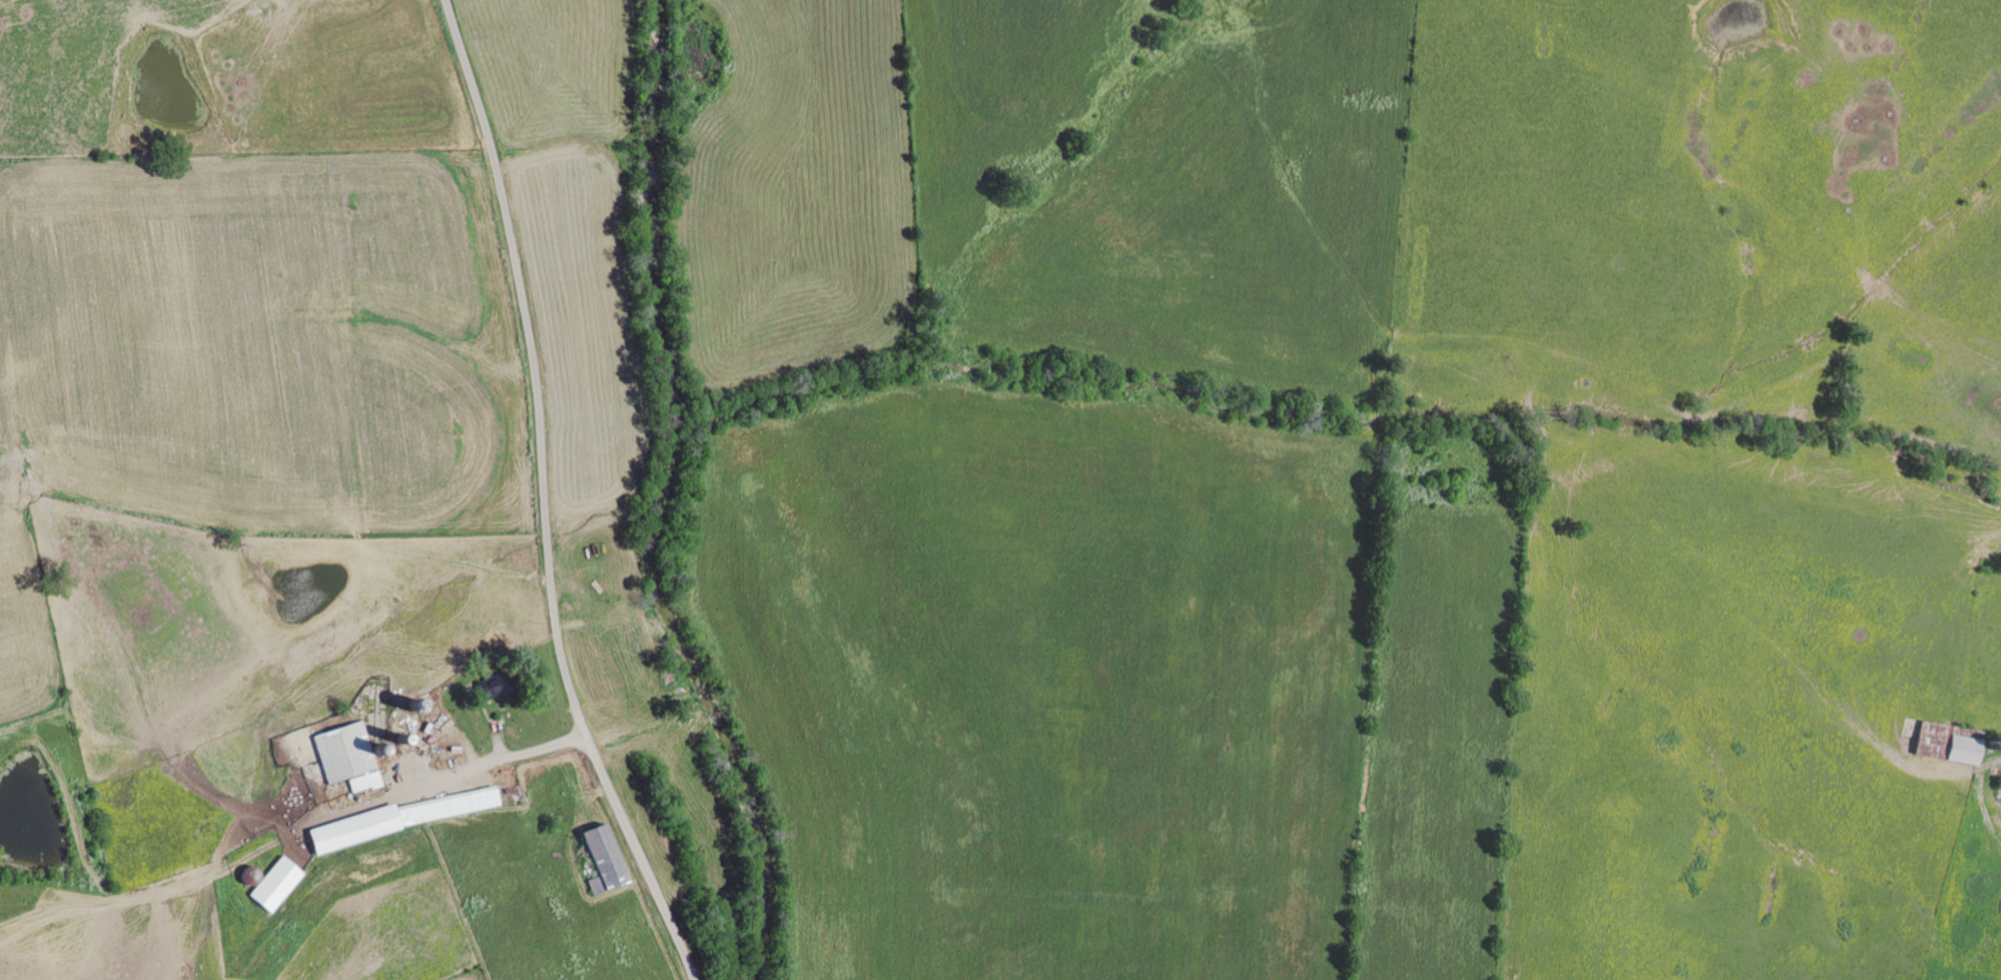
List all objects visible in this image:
road: (544, 497)
building: (1933, 736)
building: (1962, 750)
building: (344, 752)
building: (364, 782)
building: (446, 806)
building: (352, 829)
building: (600, 859)
building: (275, 884)

